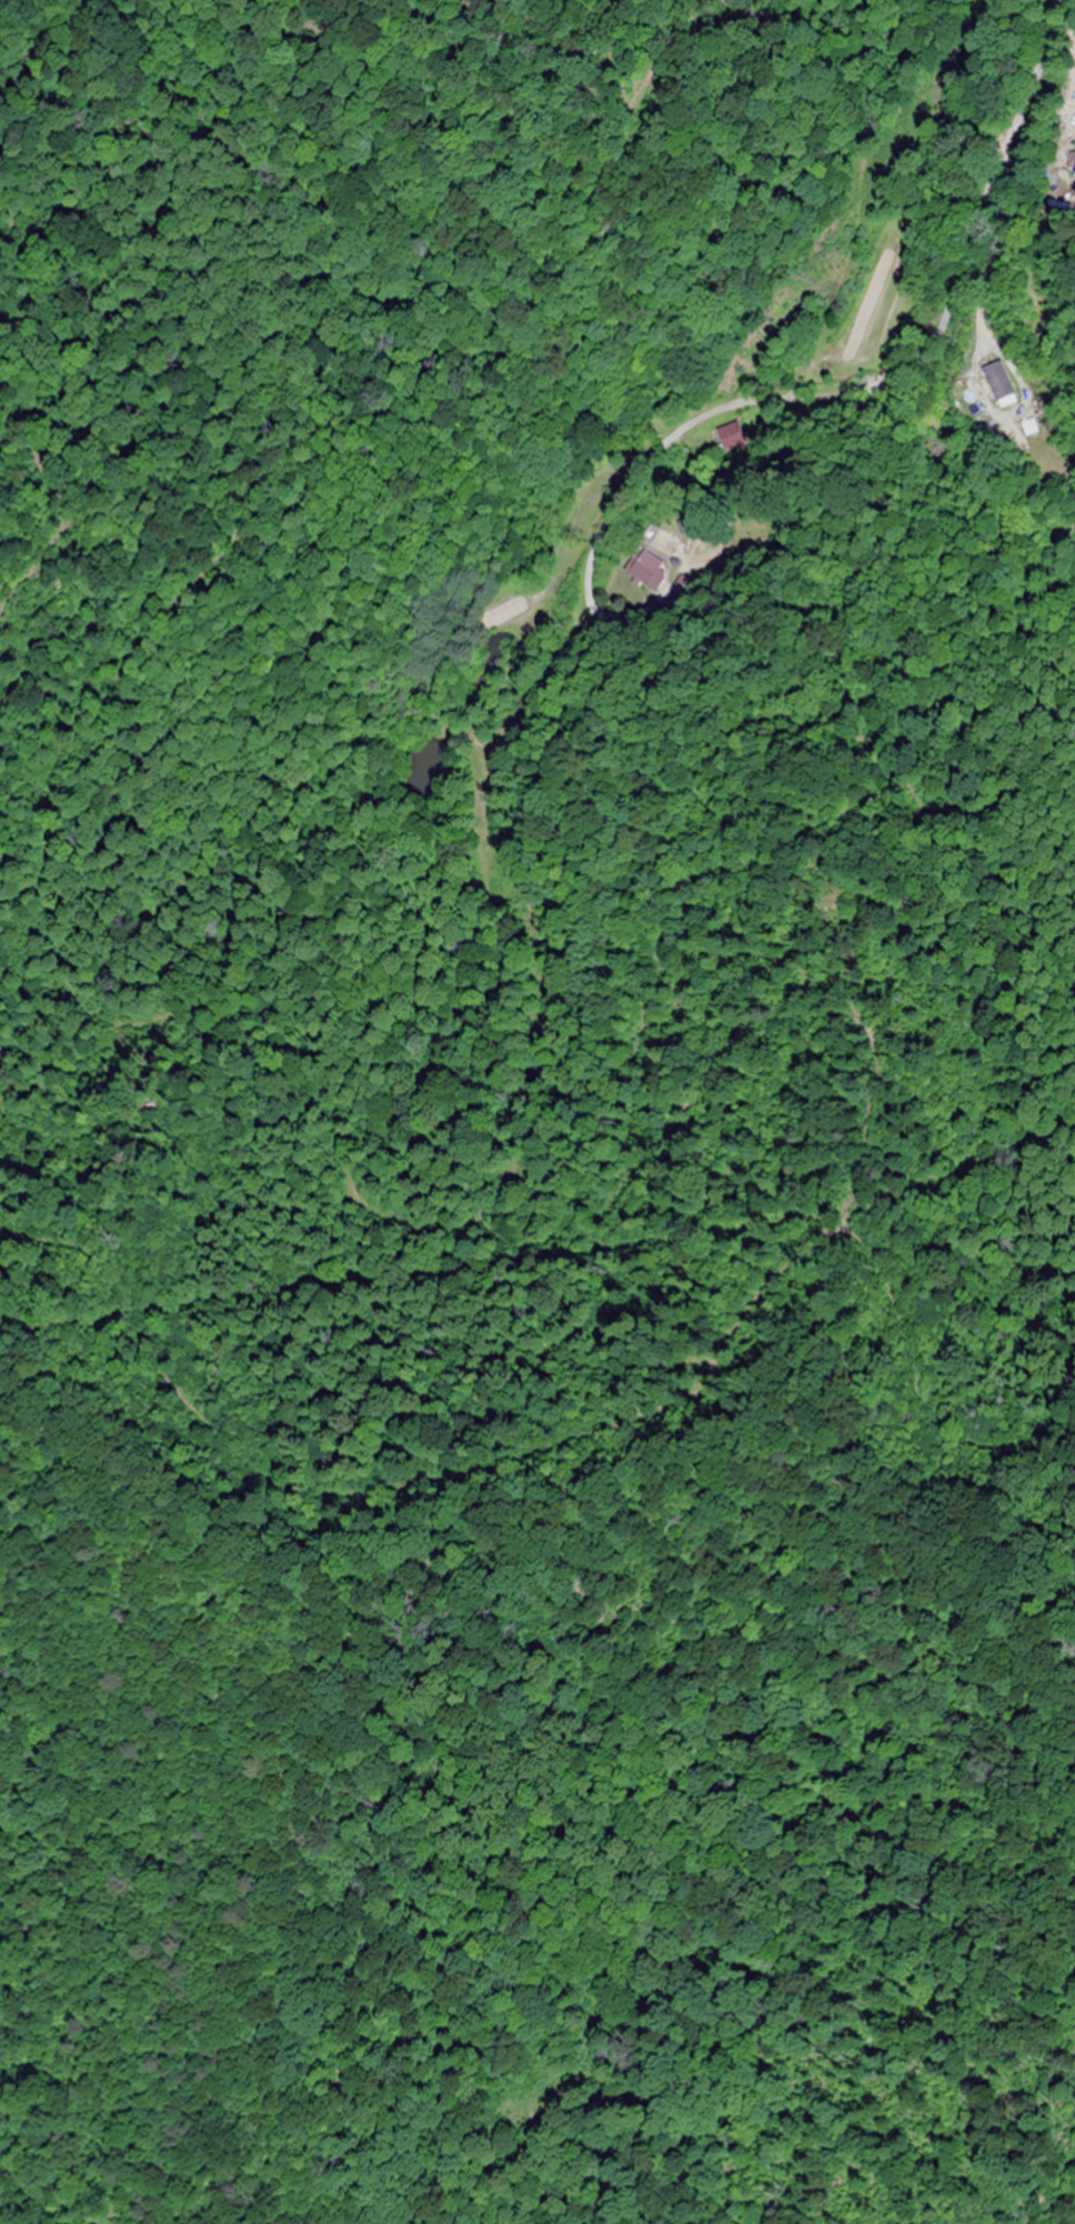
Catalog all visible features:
road: (955, 305)
building: (999, 384)
building: (649, 569)

